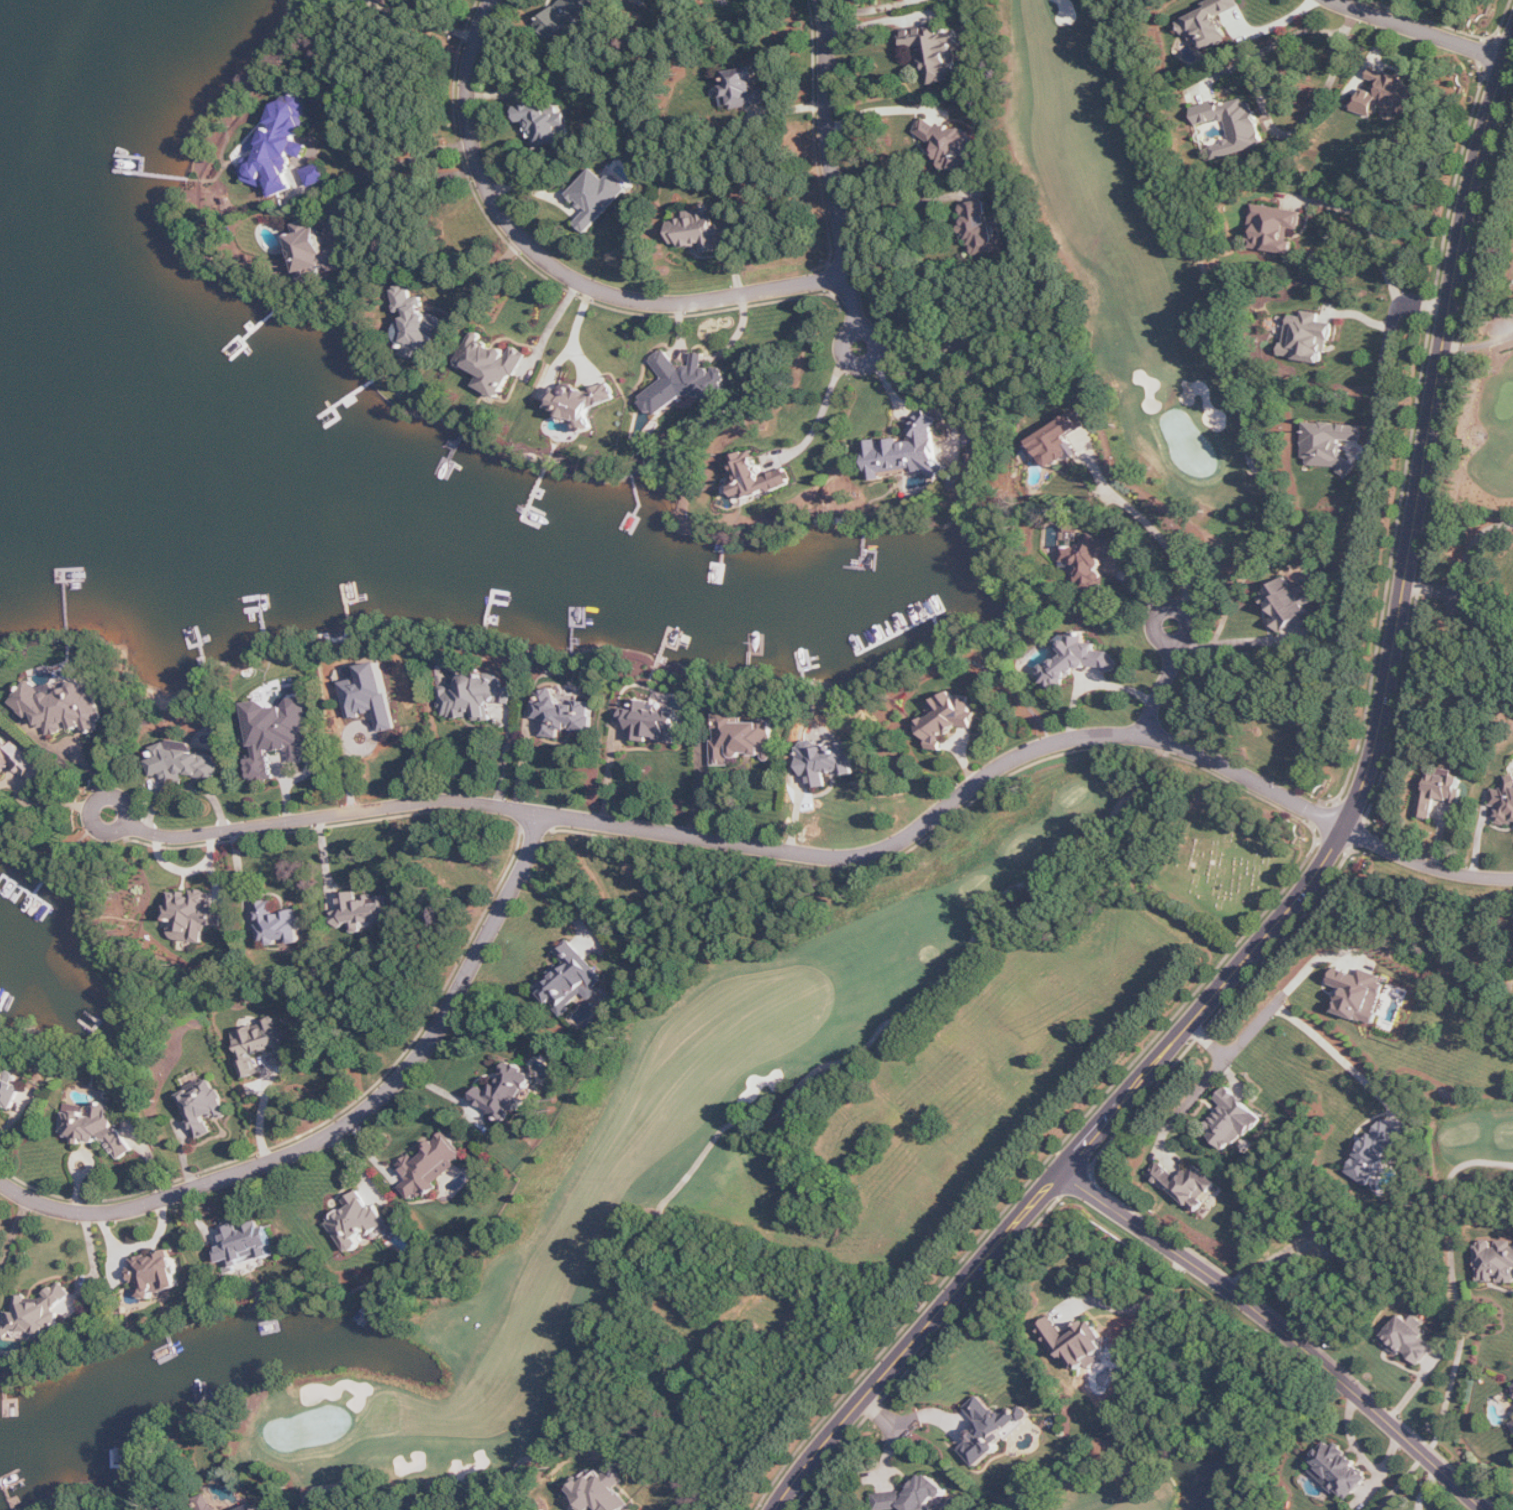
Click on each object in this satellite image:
building: (396, 0)
road: (866, 5)
building: (566, 18)
road: (880, 20)
road: (435, 22)
building: (1210, 23)
road: (1275, 24)
road: (1419, 30)
building: (935, 51)
building: (743, 89)
building: (1387, 95)
road: (1263, 97)
road: (881, 110)
building: (545, 124)
building: (1232, 125)
building: (951, 145)
building: (281, 148)
road: (831, 165)
road: (385, 170)
road: (388, 183)
building: (598, 197)
road: (907, 203)
building: (981, 228)
building: (1274, 228)
road: (1371, 228)
building: (698, 231)
building: (317, 250)
road: (556, 267)
road: (488, 277)
building: (416, 323)
road: (553, 327)
road: (858, 329)
road: (577, 335)
building: (1308, 337)
road: (1479, 344)
road: (1385, 359)
building: (493, 364)
building: (684, 383)
building: (584, 402)
park: (1493, 402)
road: (820, 415)
building: (1060, 441)
building: (1331, 445)
building: (908, 452)
building: (757, 477)
road: (1154, 531)
building: (1092, 562)
road: (1463, 568)
building: (1289, 604)
road: (1173, 609)
road: (1238, 642)
building: (1077, 660)
road: (1159, 692)
building: (372, 696)
building: (476, 696)
building: (62, 708)
building: (564, 715)
building: (949, 719)
building: (653, 722)
building: (1, 726)
building: (278, 734)
building: (743, 739)
park: (1178, 743)
road: (506, 754)
building: (20, 760)
road: (525, 761)
building: (828, 763)
road: (612, 774)
road: (697, 790)
building: (1441, 792)
road: (48, 802)
building: (1505, 802)
road: (97, 803)
road: (758, 847)
park: (1229, 860)
road: (1323, 864)
road: (1425, 865)
road: (1008, 893)
building: (365, 911)
building: (194, 915)
building: (280, 925)
building: (572, 979)
building: (1360, 994)
road: (1236, 1043)
building: (258, 1044)
road: (1334, 1049)
road: (1205, 1079)
building: (9, 1089)
building: (507, 1092)
building: (204, 1106)
road: (263, 1109)
building: (1232, 1120)
building: (96, 1125)
road: (348, 1125)
building: (1376, 1151)
building: (432, 1166)
building: (1188, 1185)
building: (359, 1222)
road: (15, 1238)
building: (245, 1246)
park: (1459, 1256)
building: (1496, 1261)
road: (1271, 1262)
building: (157, 1273)
road: (1135, 1307)
building: (38, 1314)
road: (1463, 1322)
road: (1283, 1330)
building: (1410, 1339)
building: (1076, 1343)
road: (883, 1412)
building: (992, 1430)
road: (1156, 1451)
building: (1340, 1470)
park: (1147, 1471)
building: (600, 1491)
building: (912, 1498)
building: (252, 1508)

